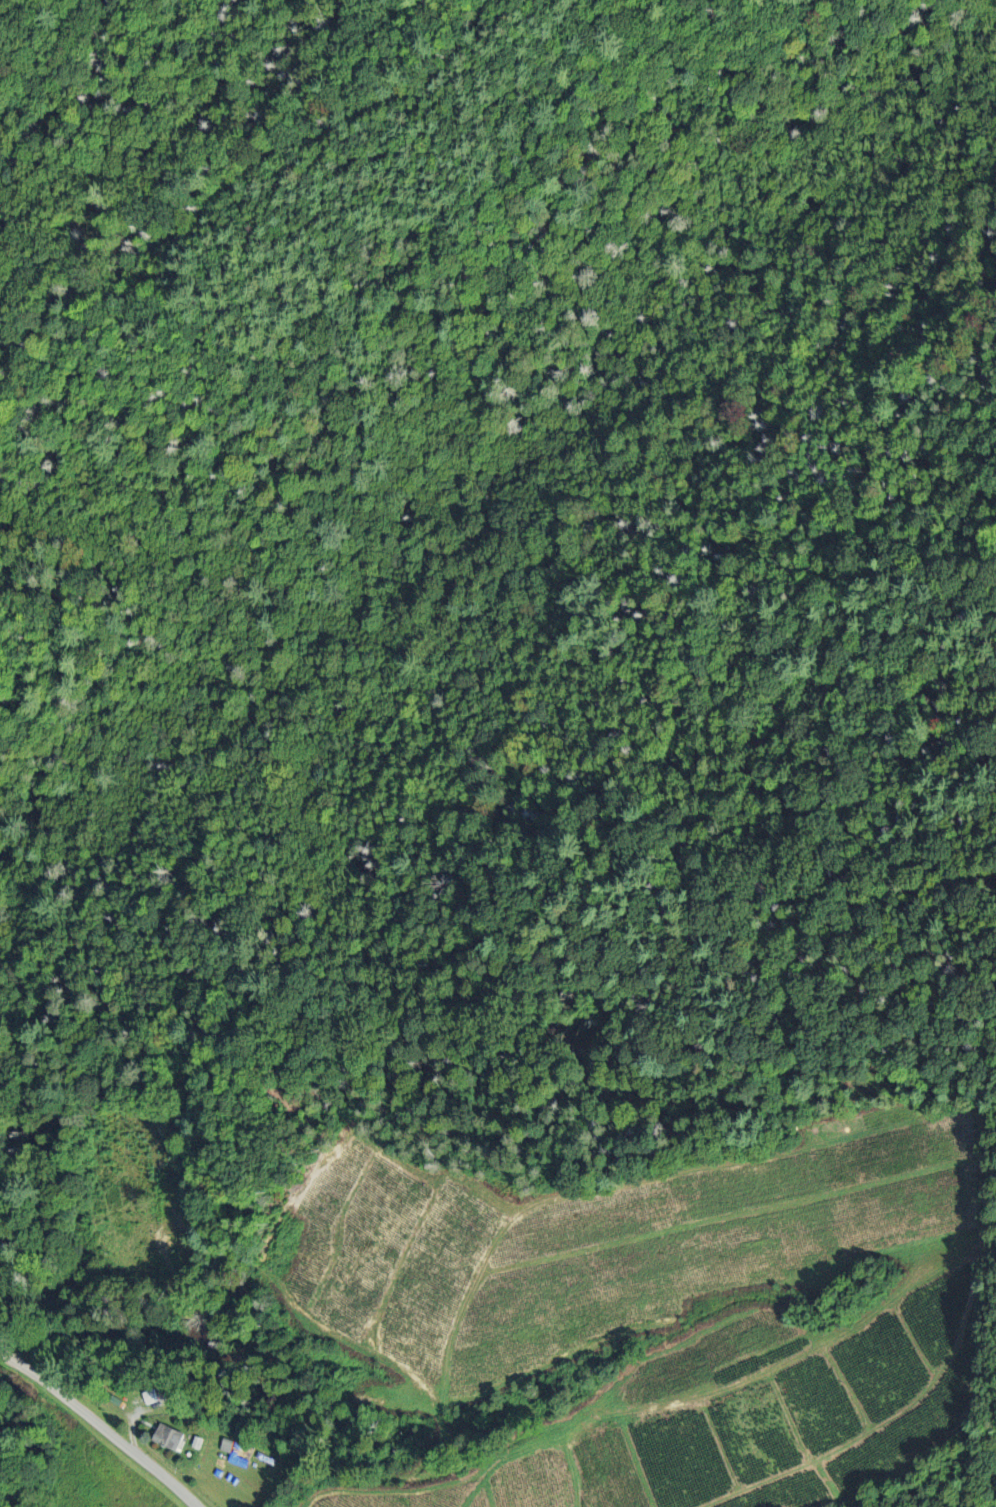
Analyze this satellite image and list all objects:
road: (483, 599)
road: (85, 1394)
road: (99, 1426)
road: (348, 1476)

